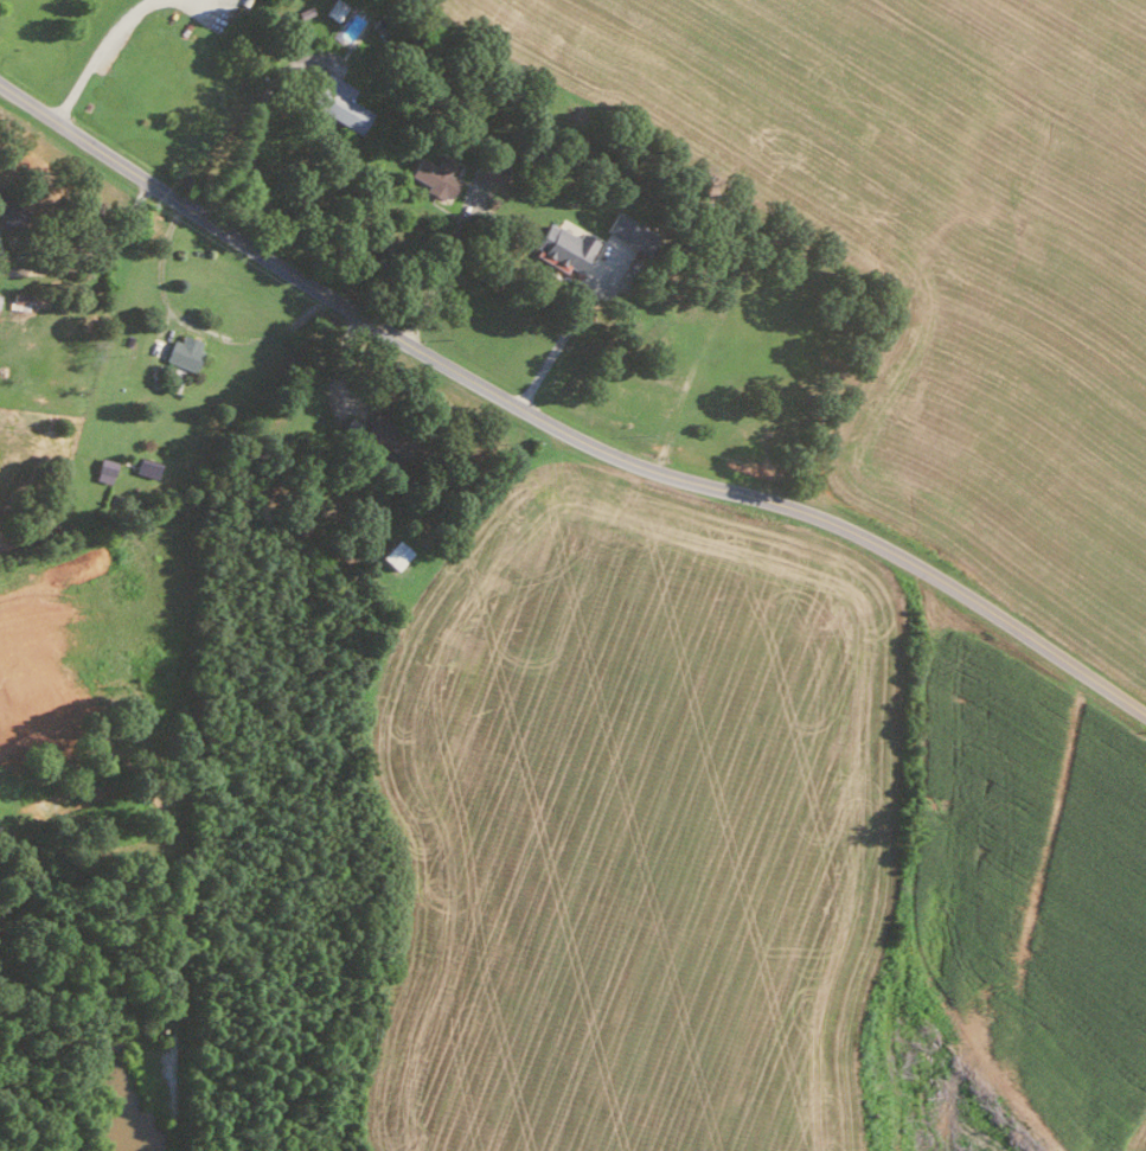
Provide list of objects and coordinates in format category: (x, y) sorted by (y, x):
building: (334, 8)
road: (96, 55)
building: (335, 101)
road: (247, 140)
building: (431, 175)
building: (481, 178)
building: (4, 207)
building: (626, 230)
building: (559, 245)
road: (89, 252)
road: (440, 271)
road: (372, 322)
road: (564, 338)
building: (181, 350)
building: (146, 467)
building: (393, 552)
road: (966, 597)

